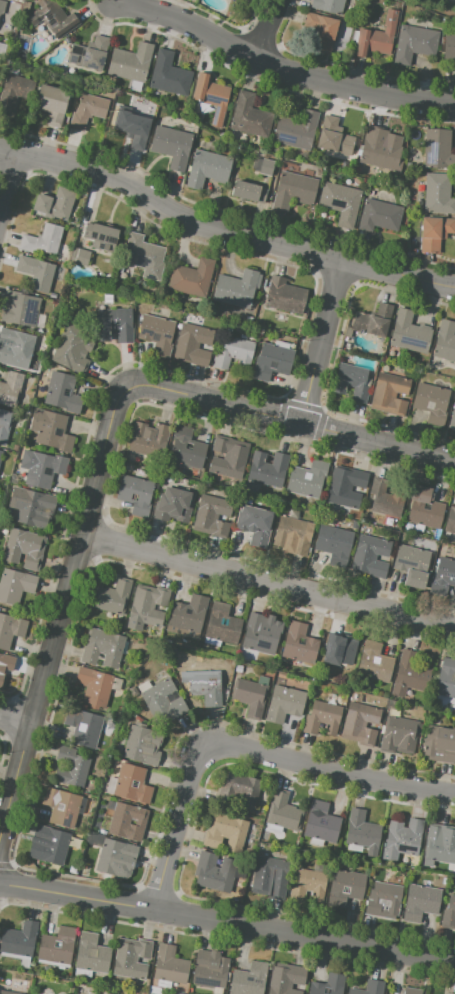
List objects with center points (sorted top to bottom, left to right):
building: (231, 0)
road: (117, 1)
building: (328, 5)
building: (3, 8)
building: (53, 19)
road: (268, 29)
building: (321, 31)
building: (377, 37)
building: (0, 43)
building: (413, 43)
building: (449, 48)
building: (89, 53)
building: (130, 62)
road: (282, 66)
building: (169, 75)
building: (14, 91)
building: (212, 96)
building: (52, 103)
building: (88, 110)
building: (250, 116)
building: (133, 127)
building: (296, 130)
building: (334, 137)
building: (172, 146)
building: (438, 149)
building: (379, 150)
building: (263, 166)
building: (207, 168)
road: (8, 184)
building: (293, 190)
building: (248, 191)
building: (438, 194)
building: (340, 202)
building: (55, 204)
building: (379, 216)
road: (222, 230)
building: (434, 232)
building: (101, 236)
building: (42, 240)
building: (80, 256)
building: (143, 256)
building: (36, 272)
building: (191, 277)
building: (236, 288)
building: (284, 295)
building: (19, 308)
building: (373, 321)
building: (112, 324)
building: (156, 333)
building: (409, 333)
building: (444, 340)
building: (193, 344)
road: (319, 344)
building: (73, 348)
building: (18, 352)
building: (233, 353)
building: (272, 361)
building: (352, 380)
building: (10, 389)
building: (61, 393)
building: (389, 393)
building: (431, 402)
building: (452, 414)
road: (279, 420)
building: (4, 425)
building: (54, 432)
building: (148, 438)
building: (188, 450)
building: (0, 454)
building: (229, 458)
building: (41, 468)
building: (268, 469)
building: (308, 479)
building: (346, 486)
building: (136, 493)
building: (386, 497)
building: (174, 504)
building: (426, 506)
building: (437, 506)
building: (32, 507)
building: (212, 515)
building: (450, 521)
building: (254, 525)
building: (293, 534)
building: (334, 543)
building: (24, 548)
building: (370, 555)
building: (412, 565)
building: (442, 576)
road: (269, 583)
building: (15, 585)
building: (112, 597)
building: (147, 607)
building: (188, 616)
road: (59, 624)
building: (222, 624)
building: (11, 629)
building: (262, 633)
building: (299, 641)
building: (299, 643)
building: (341, 647)
building: (102, 648)
building: (340, 650)
building: (375, 662)
building: (6, 665)
building: (410, 674)
building: (446, 678)
building: (96, 686)
building: (205, 686)
building: (250, 696)
building: (163, 701)
building: (283, 703)
road: (16, 718)
building: (321, 718)
building: (359, 723)
building: (83, 727)
building: (398, 735)
building: (142, 744)
building: (440, 744)
road: (245, 752)
building: (71, 767)
building: (132, 783)
building: (241, 789)
building: (61, 806)
building: (283, 812)
building: (127, 821)
building: (132, 822)
building: (321, 822)
building: (362, 831)
building: (225, 832)
building: (402, 839)
building: (51, 844)
building: (440, 844)
building: (114, 855)
building: (214, 872)
building: (270, 876)
building: (307, 886)
building: (345, 887)
building: (383, 899)
building: (420, 902)
building: (449, 913)
road: (227, 922)
building: (19, 939)
building: (46, 944)
building: (57, 944)
building: (91, 953)
building: (131, 958)
building: (169, 965)
building: (209, 969)
building: (249, 979)
building: (286, 979)
building: (329, 984)
building: (369, 987)
building: (8, 992)
building: (413, 992)
building: (106, 993)
building: (448, 993)

